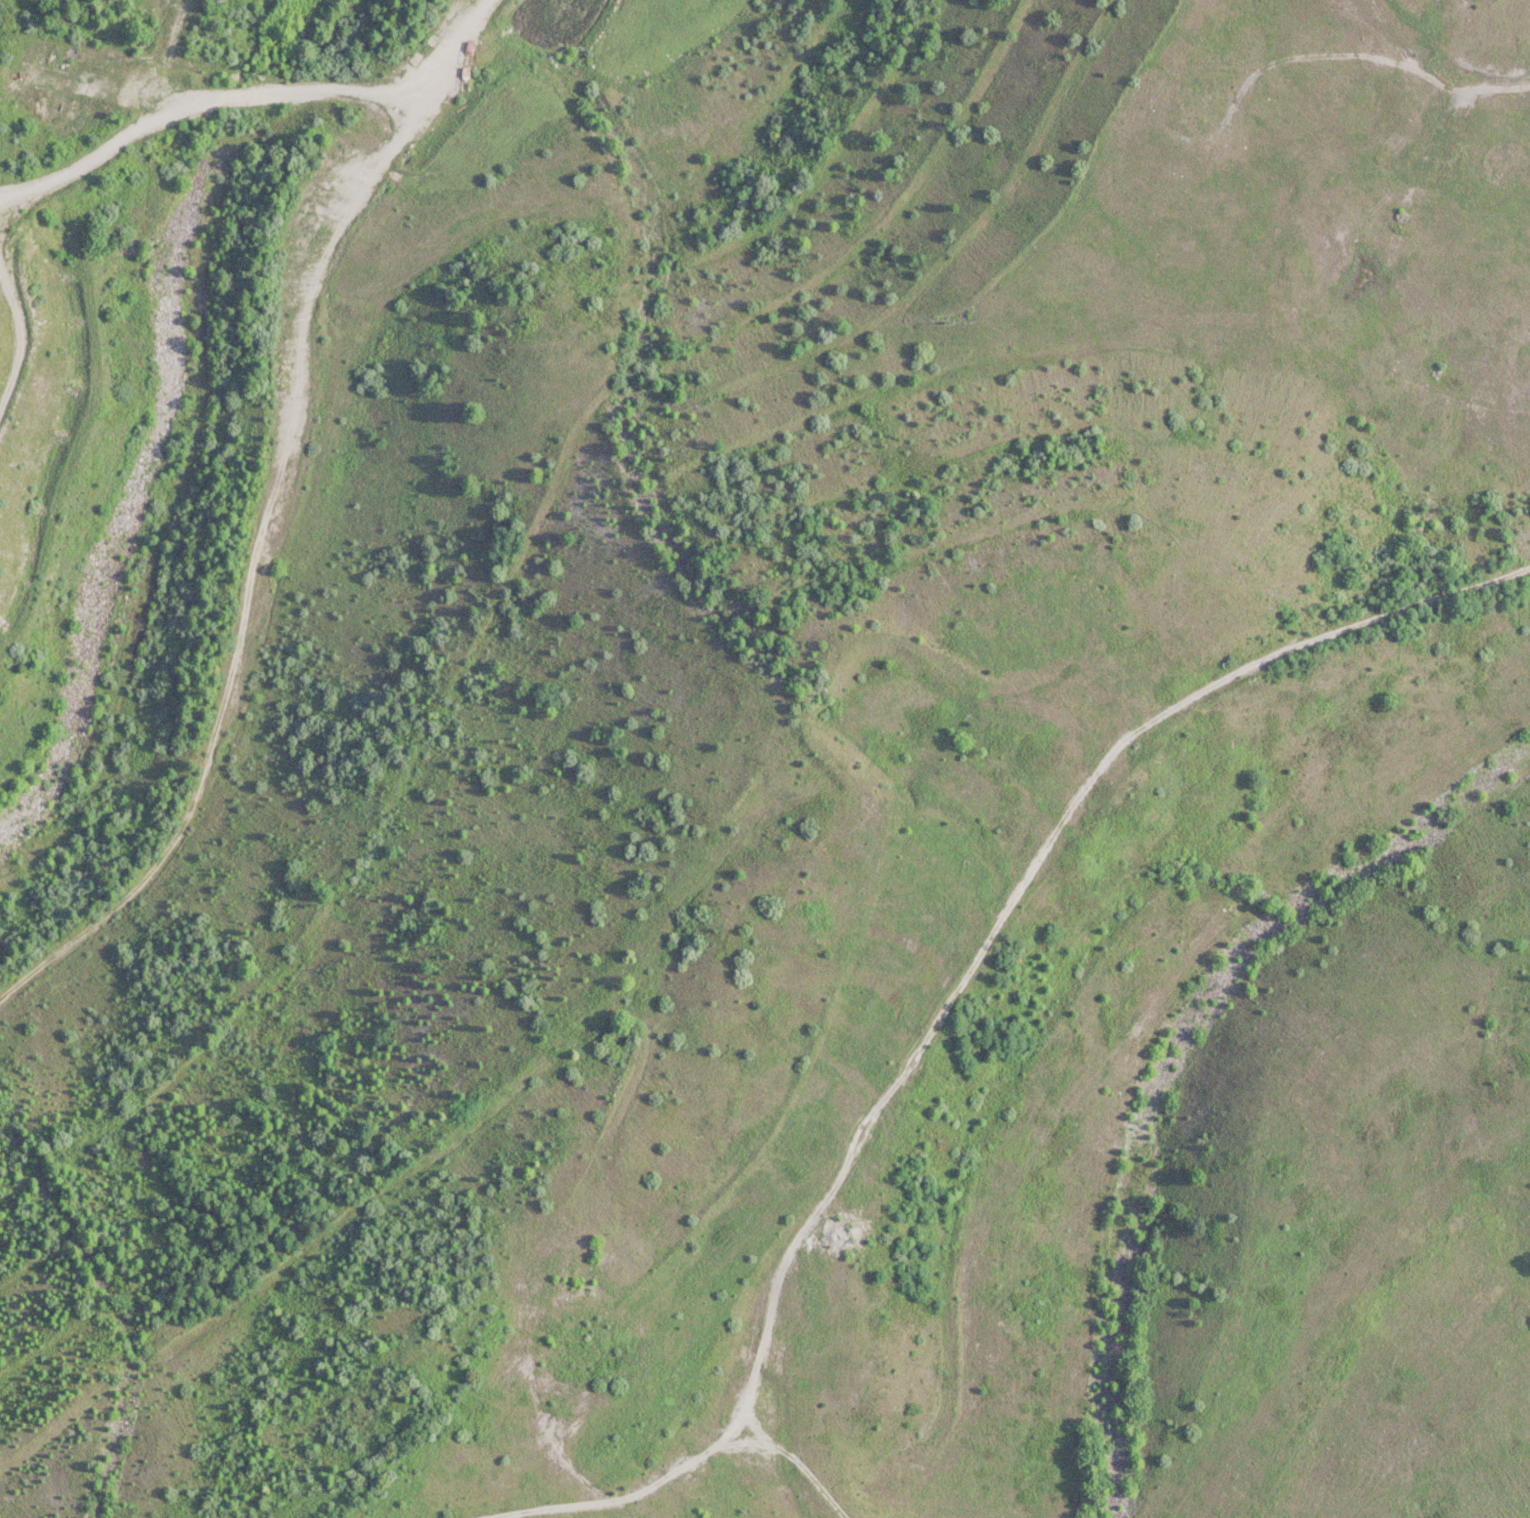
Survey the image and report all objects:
building: (347, 150)
quarry: (765, 759)

